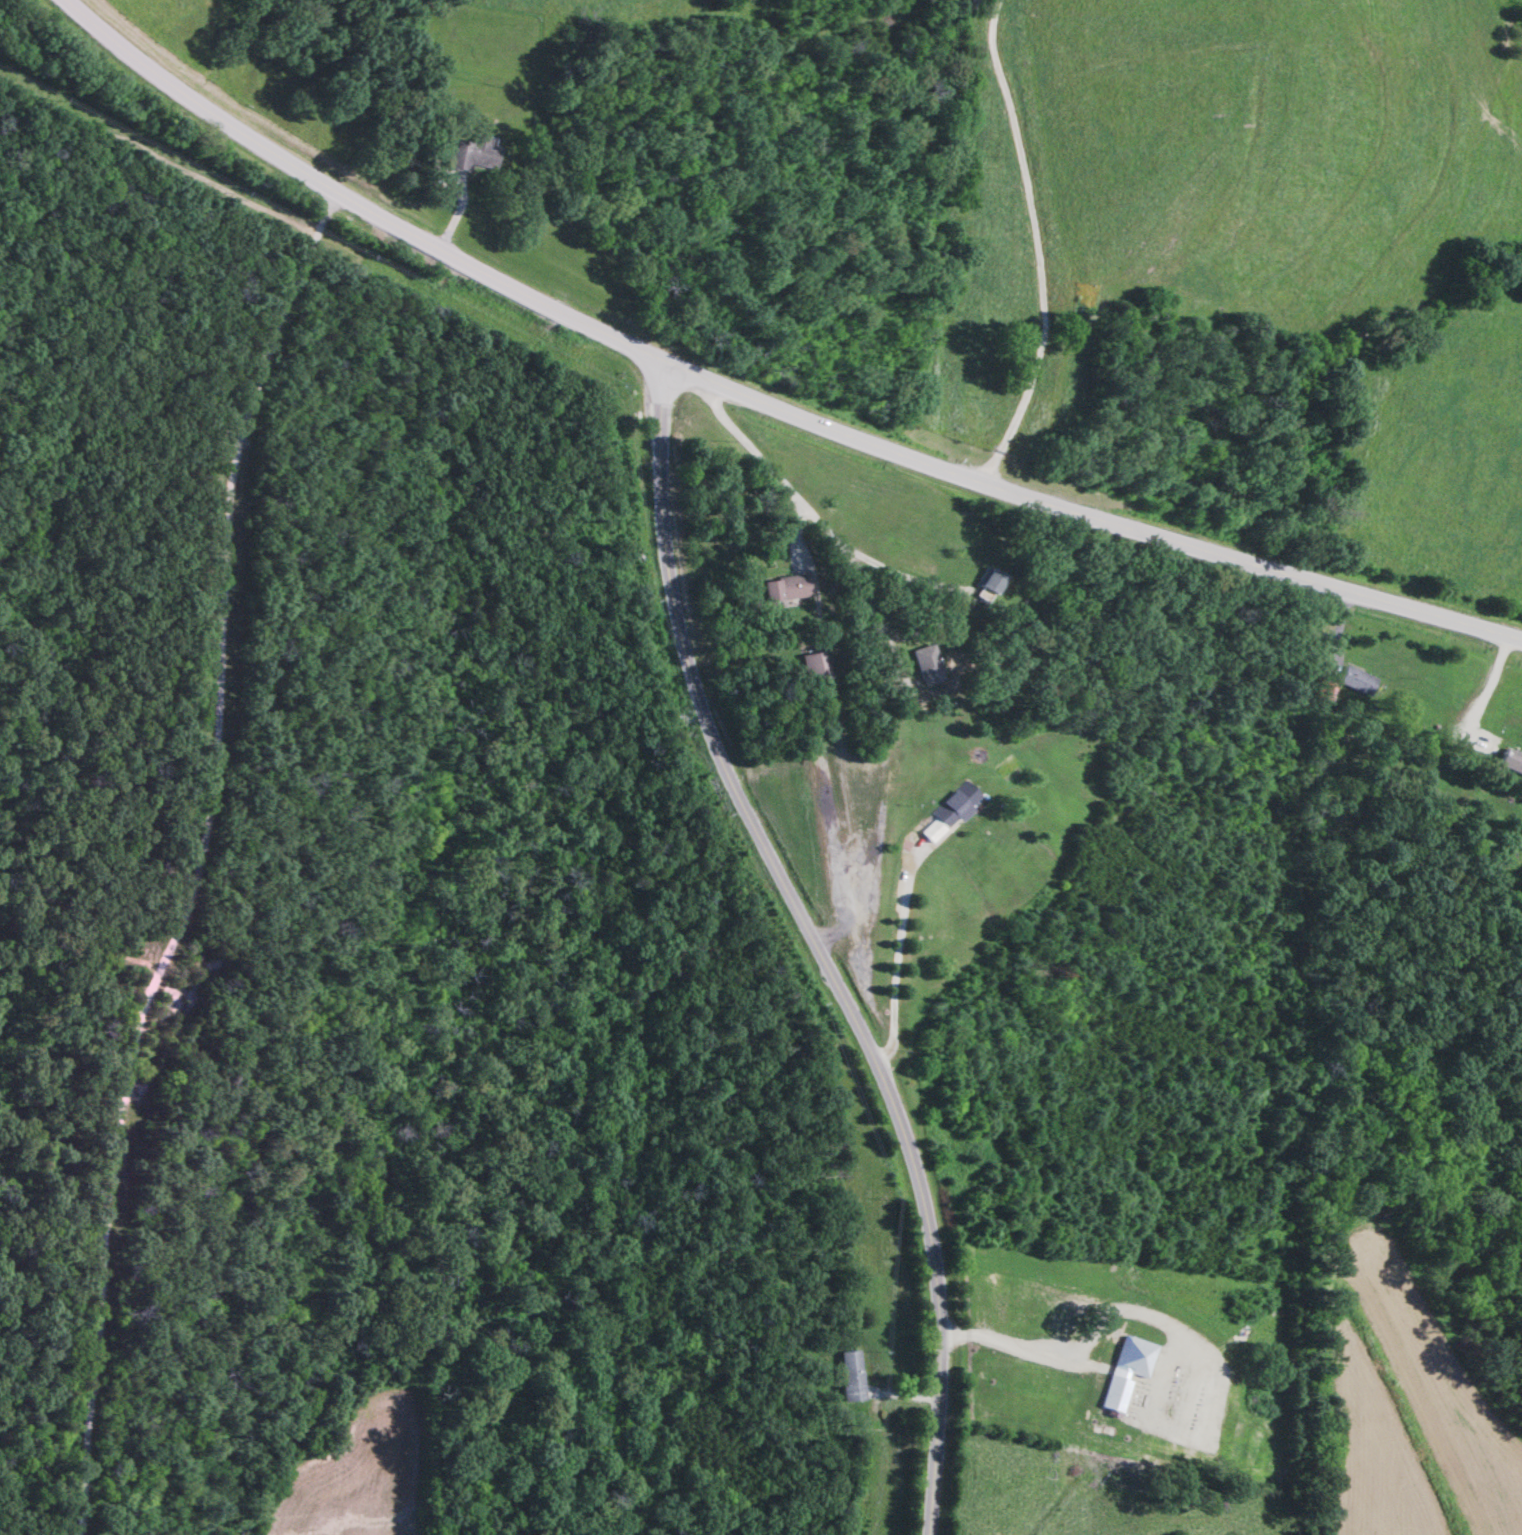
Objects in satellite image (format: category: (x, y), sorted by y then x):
road: (61, 81)
building: (473, 154)
road: (1038, 245)
park: (1089, 332)
road: (763, 401)
road: (172, 426)
road: (909, 578)
road: (857, 585)
building: (989, 588)
building: (784, 590)
road: (826, 639)
building: (925, 666)
building: (815, 668)
building: (1355, 683)
building: (1322, 693)
building: (1479, 751)
building: (1509, 764)
building: (948, 813)
road: (816, 943)
road: (898, 963)
road: (1015, 1348)
building: (1126, 1373)
building: (849, 1378)

